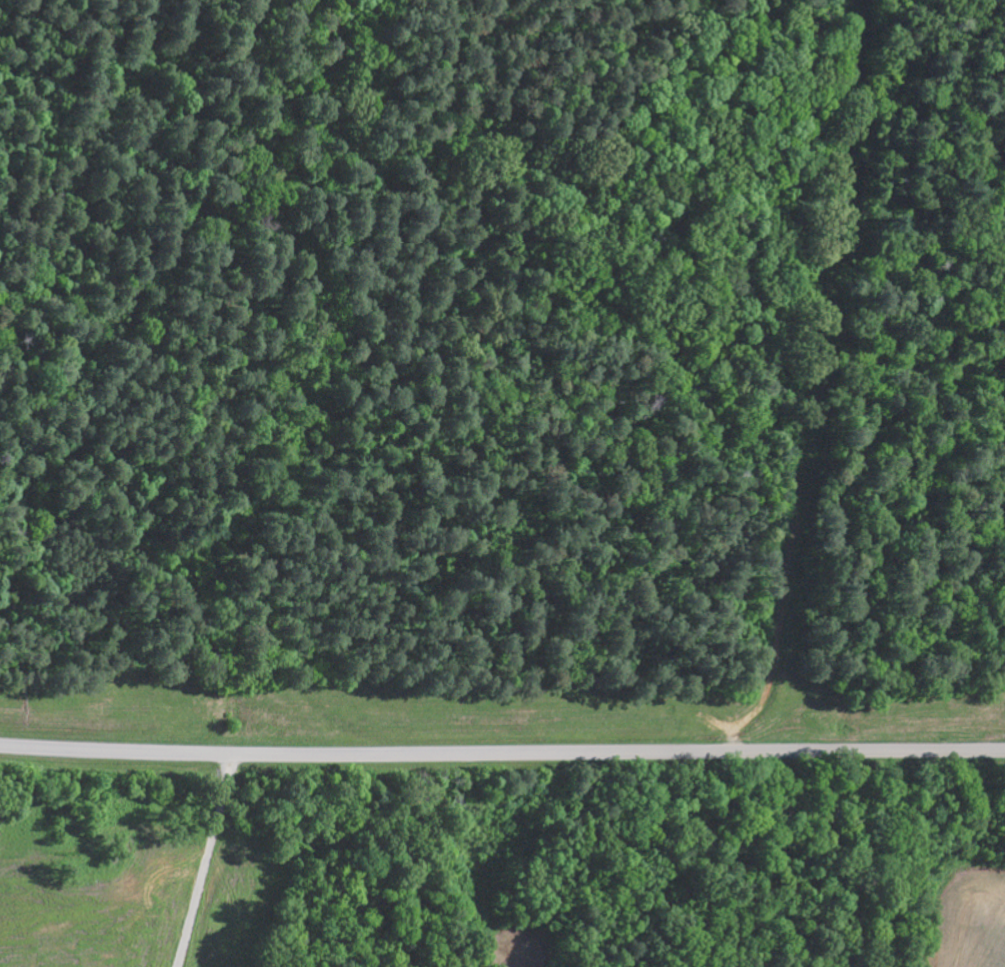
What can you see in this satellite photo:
road: (502, 756)

